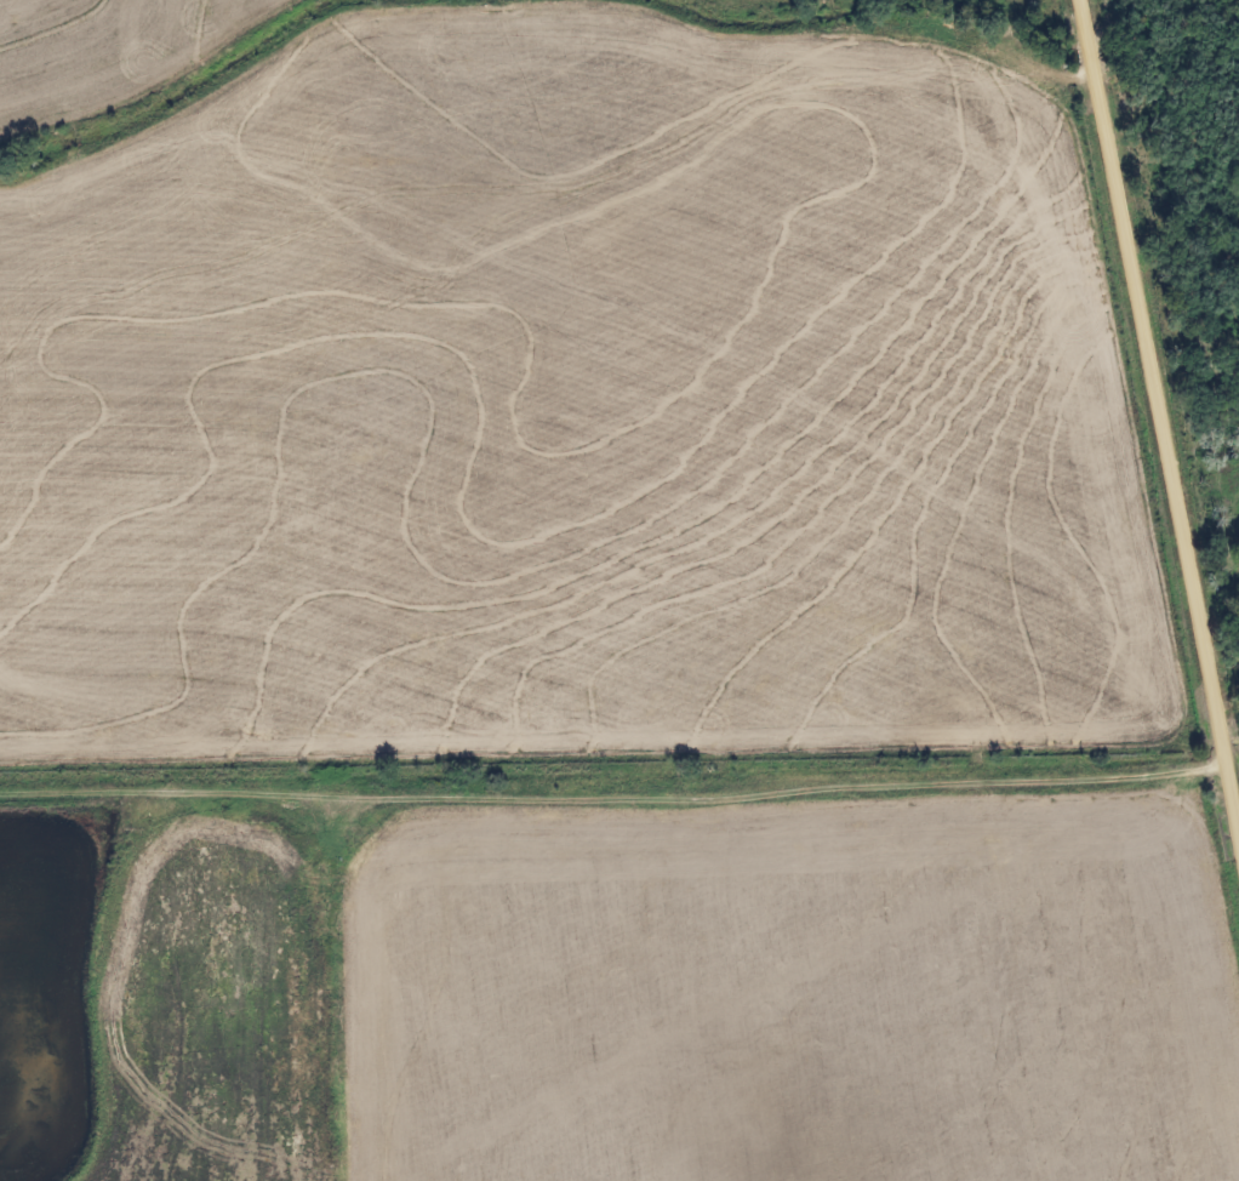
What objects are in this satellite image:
road: (1159, 404)

